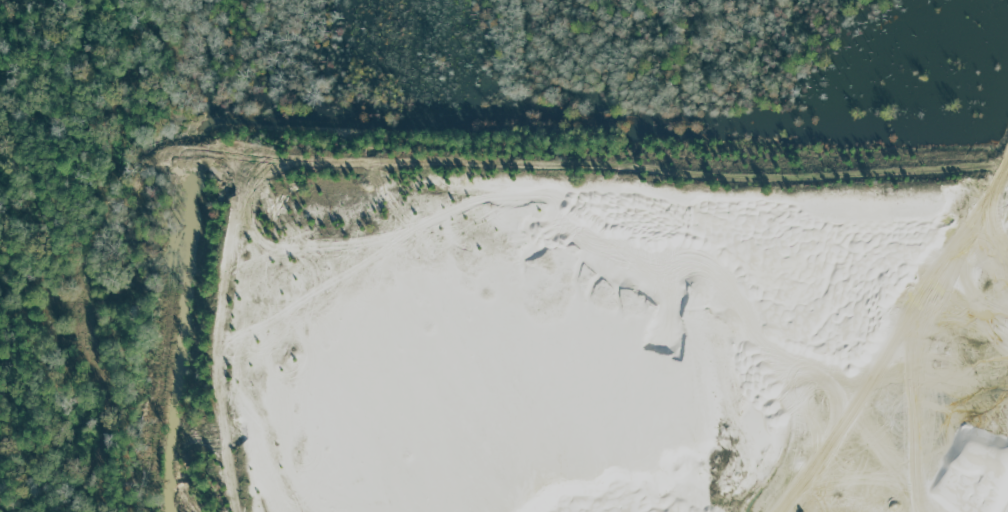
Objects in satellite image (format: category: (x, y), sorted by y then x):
road: (993, 183)
road: (993, 289)

